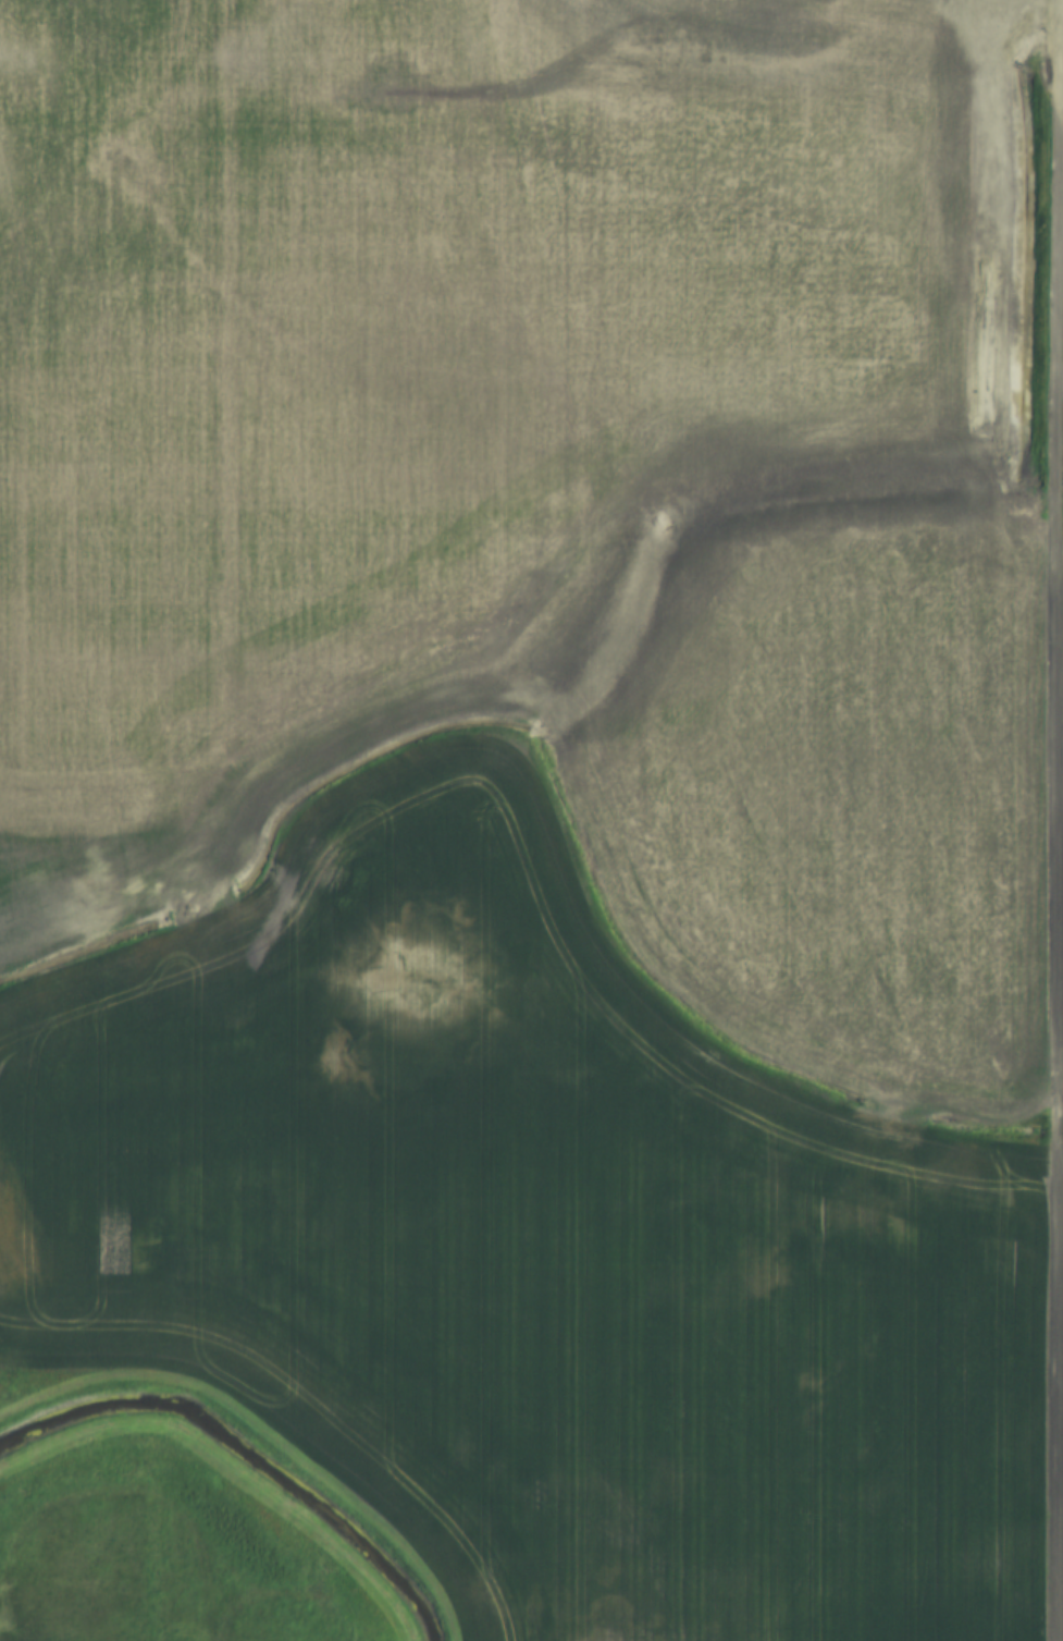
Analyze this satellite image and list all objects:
road: (1056, 786)

